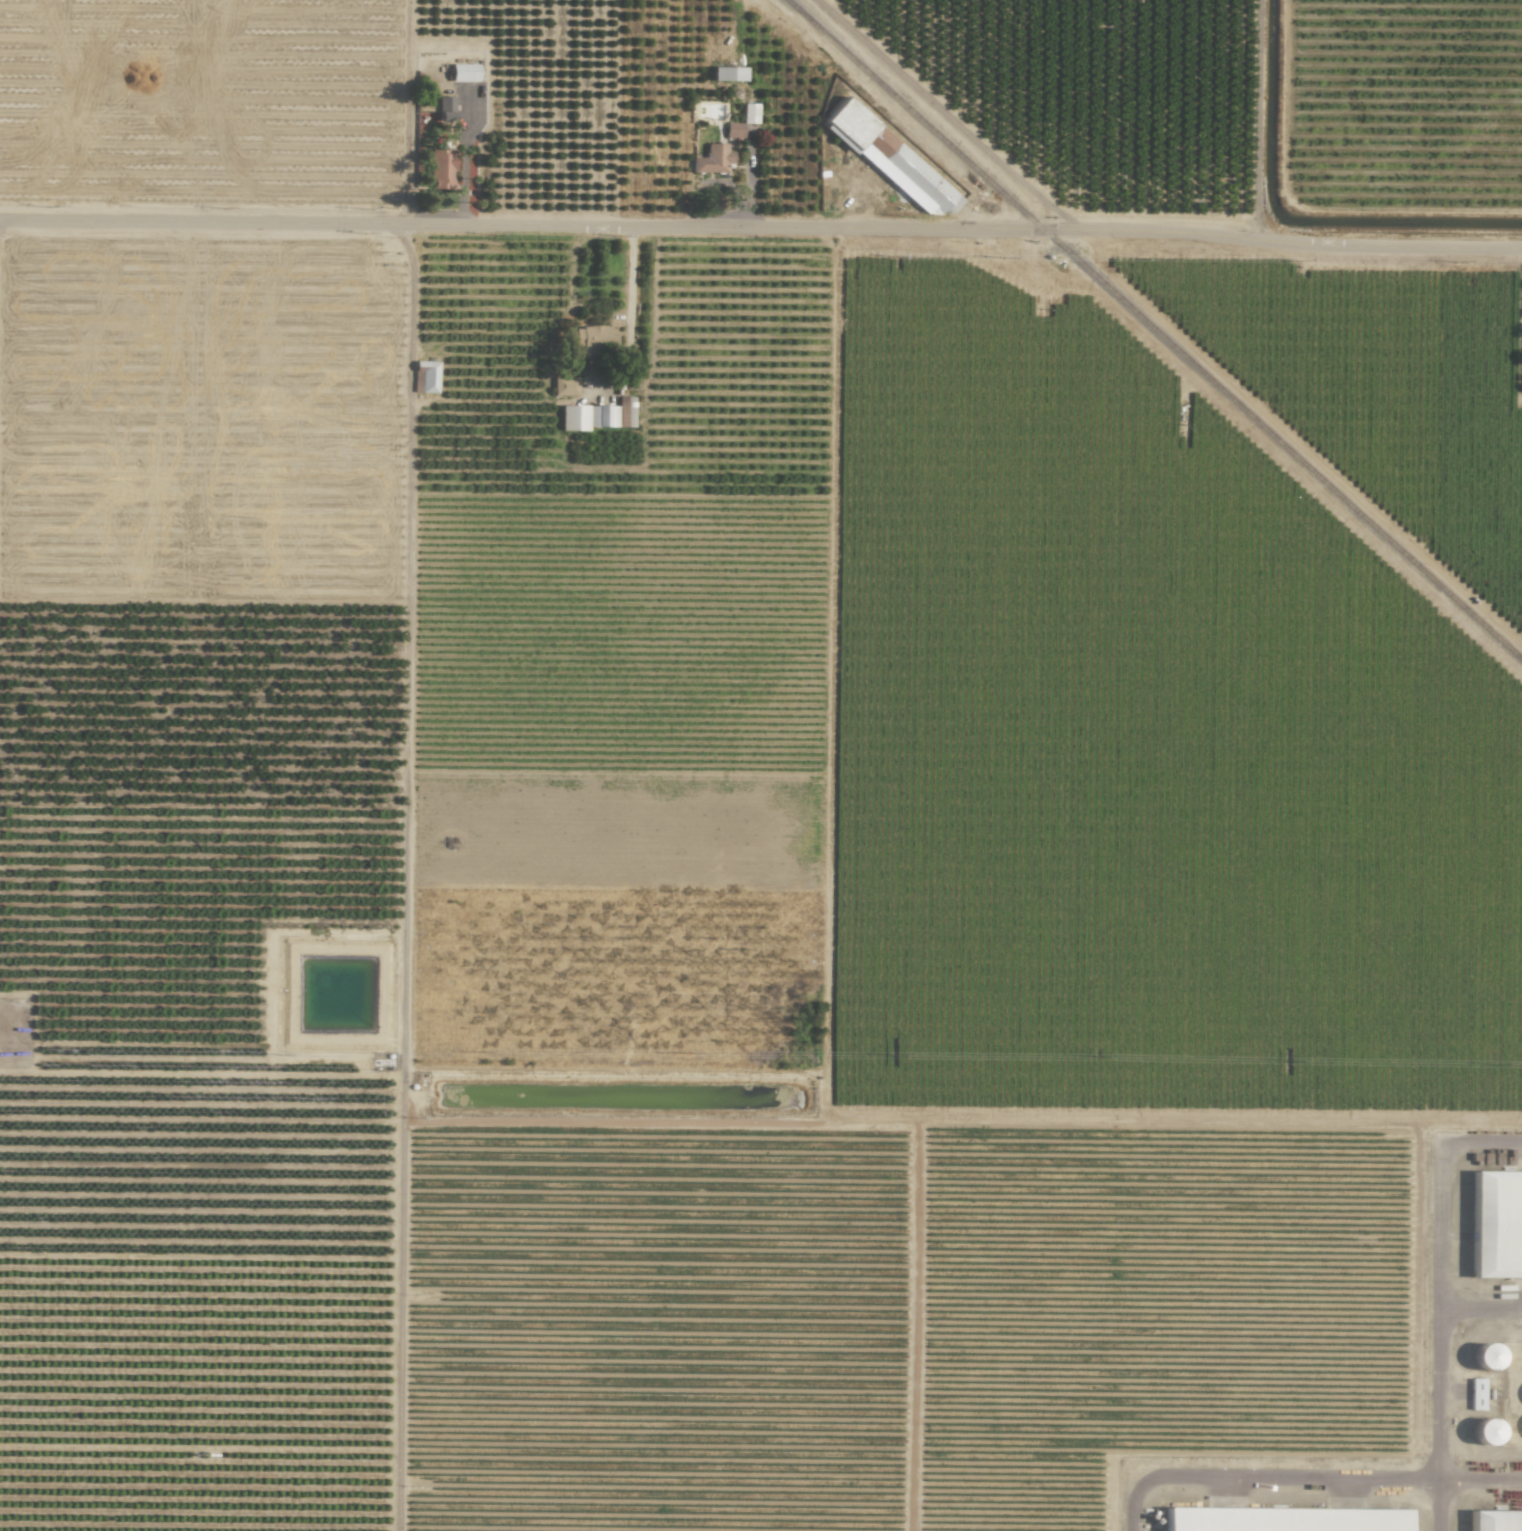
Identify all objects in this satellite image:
building: (462, 72)
building: (444, 108)
building: (748, 114)
building: (732, 130)
building: (711, 159)
building: (889, 160)
building: (439, 168)
road: (761, 225)
road: (629, 316)
railway: (1153, 330)
building: (590, 341)
building: (426, 376)
building: (630, 382)
building: (564, 386)
building: (597, 415)
building: (1496, 1225)
road: (1479, 1310)
building: (1484, 1357)
building: (1475, 1394)
building: (1483, 1432)
road: (1435, 1445)
road: (1478, 1478)
road: (1443, 1503)
building: (1281, 1520)
building: (1494, 1520)

